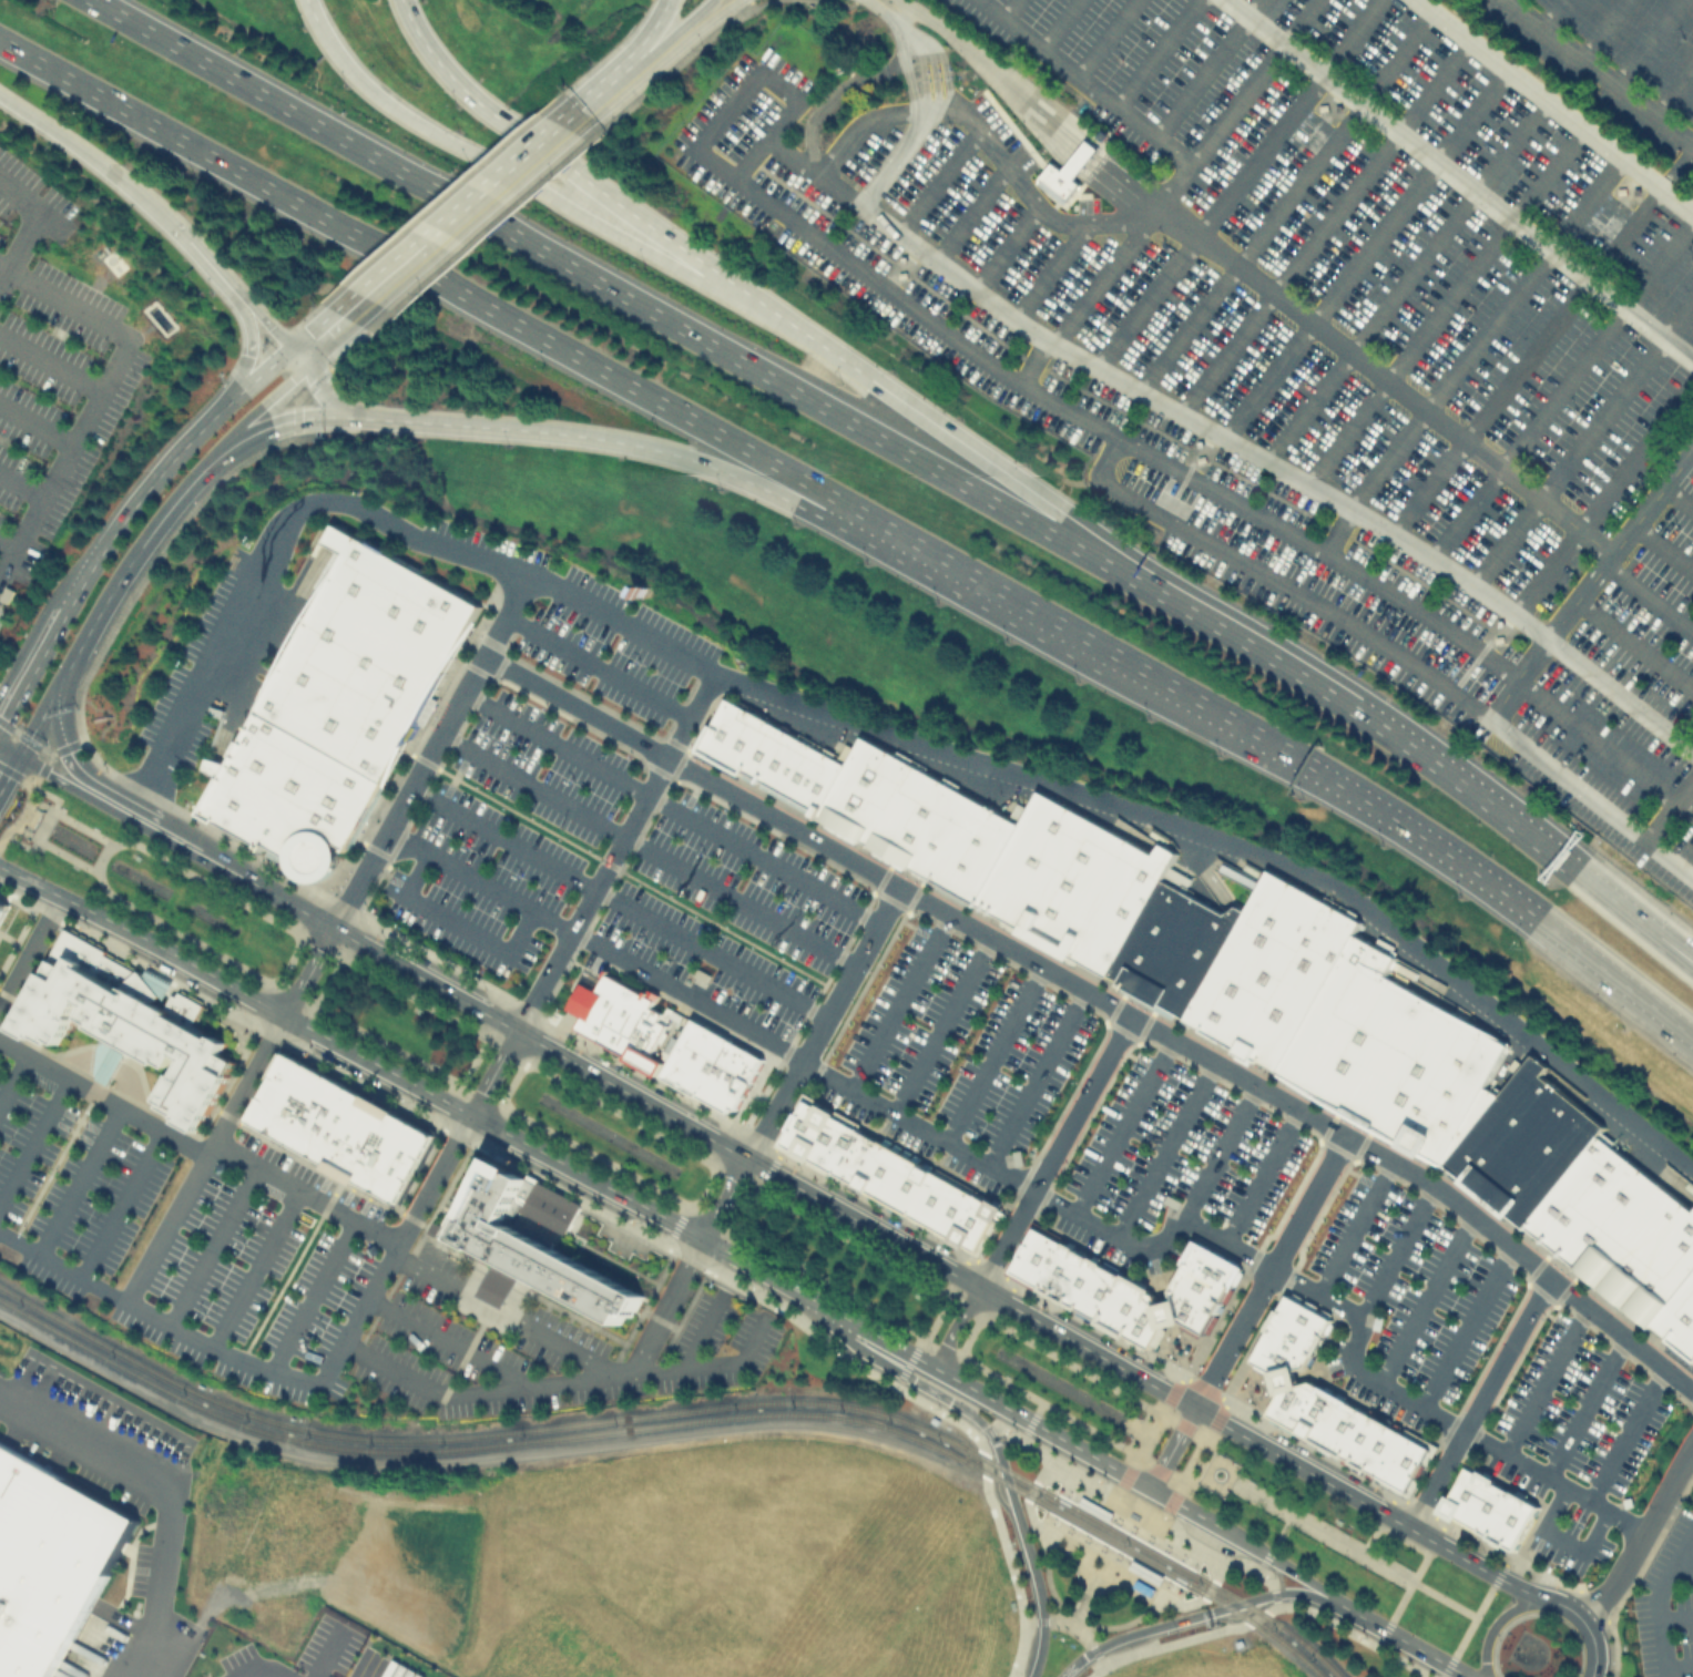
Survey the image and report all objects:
road: (752, 4)
road: (310, 9)
road: (1010, 9)
road: (1550, 14)
road: (689, 21)
road: (1058, 23)
road: (703, 24)
road: (1600, 29)
road: (1104, 38)
road: (642, 41)
road: (1645, 42)
road: (918, 43)
road: (1154, 52)
road: (902, 65)
road: (645, 67)
road: (1204, 67)
road: (988, 71)
road: (670, 72)
road: (1595, 72)
road: (1252, 81)
road: (1672, 90)
road: (833, 94)
road: (1536, 94)
road: (1106, 99)
road: (593, 105)
building: (1322, 105)
road: (1692, 145)
road: (1103, 146)
road: (1692, 146)
road: (1082, 154)
road: (792, 155)
building: (1078, 157)
road: (893, 159)
road: (99, 162)
road: (1675, 167)
road: (567, 168)
building: (1058, 181)
road: (1459, 181)
road: (938, 182)
road: (1236, 182)
road: (523, 183)
road: (1120, 184)
building: (1620, 188)
road: (1028, 196)
road: (1285, 201)
road: (1675, 202)
road: (468, 214)
road: (970, 214)
road: (29, 222)
road: (490, 226)
road: (1323, 226)
road: (1003, 247)
road: (1363, 253)
road: (1050, 269)
building: (899, 273)
road: (220, 274)
road: (1103, 274)
road: (430, 275)
road: (1405, 280)
road: (1441, 304)
parking lot: (1295, 315)
road: (345, 320)
traffic signals: (273, 328)
road: (276, 331)
road: (1483, 333)
road: (361, 340)
traffic signals: (322, 341)
road: (312, 349)
road: (1526, 359)
road: (50, 361)
road: (245, 361)
road: (1033, 361)
road: (987, 362)
parking lot: (50, 368)
road: (1115, 376)
road: (257, 377)
road: (105, 378)
road: (1384, 378)
traffic signals: (292, 379)
road: (318, 384)
road: (1562, 385)
road: (298, 397)
road: (262, 405)
traffic signals: (324, 417)
road: (35, 421)
road: (257, 431)
road: (583, 436)
road: (956, 439)
road: (1582, 439)
road: (889, 444)
road: (1691, 452)
building: (1199, 457)
road: (159, 476)
road: (21, 482)
road: (1602, 494)
road: (1676, 499)
road: (1336, 530)
road: (6, 545)
road: (438, 545)
road: (1662, 549)
road: (6, 559)
road: (130, 562)
road: (152, 564)
road: (1275, 579)
road: (1588, 580)
road: (980, 590)
road: (1648, 597)
road: (620, 623)
building: (1495, 636)
road: (1633, 644)
road: (48, 645)
building: (368, 654)
road: (595, 665)
parking lot: (195, 673)
road: (1619, 695)
road: (2, 722)
road: (37, 723)
building: (728, 735)
road: (1603, 745)
road: (3, 747)
road: (42, 748)
traffic signals: (7, 749)
building: (762, 751)
road: (3, 755)
building: (800, 773)
road: (1327, 778)
building: (293, 781)
road: (32, 785)
building: (861, 790)
road: (55, 797)
road: (1588, 797)
road: (131, 800)
road: (669, 807)
road: (1667, 808)
building: (907, 816)
road: (129, 818)
road: (80, 827)
road: (1196, 829)
road: (7, 831)
building: (941, 834)
building: (285, 839)
road: (646, 847)
road: (630, 850)
building: (975, 852)
road: (65, 855)
road: (623, 870)
road: (476, 880)
road: (100, 882)
building: (1072, 883)
park: (150, 886)
road: (589, 892)
road: (616, 901)
building: (2, 907)
road: (452, 924)
road: (1674, 949)
building: (1173, 950)
road: (30, 952)
road: (427, 952)
road: (1674, 952)
road: (833, 964)
building: (1271, 971)
road: (308, 972)
road: (1615, 978)
road: (325, 980)
road: (898, 1001)
road: (1102, 1002)
park: (399, 1020)
building: (629, 1021)
building: (125, 1023)
road: (820, 1023)
road: (940, 1024)
parking lot: (972, 1051)
road: (991, 1053)
building: (1394, 1055)
building: (694, 1057)
road: (472, 1060)
road: (529, 1063)
road: (493, 1073)
road: (12, 1075)
building: (730, 1076)
road: (1034, 1077)
road: (511, 1082)
road: (245, 1085)
road: (102, 1098)
road: (504, 1107)
road: (1119, 1125)
building: (340, 1126)
park: (606, 1134)
road: (34, 1138)
building: (824, 1138)
building: (1523, 1144)
road: (1162, 1148)
road: (733, 1152)
road: (1053, 1152)
road: (1217, 1152)
road: (772, 1165)
road: (1262, 1174)
building: (891, 1176)
road: (589, 1177)
road: (434, 1178)
road: (78, 1179)
road: (705, 1188)
road: (306, 1192)
road: (726, 1199)
road: (120, 1203)
building: (940, 1204)
road: (602, 1214)
road: (1090, 1221)
building: (975, 1224)
road: (1353, 1226)
road: (164, 1228)
building: (1619, 1229)
building: (532, 1241)
road: (212, 1245)
road: (874, 1252)
road: (1394, 1252)
building: (1033, 1255)
building: (1213, 1260)
park: (844, 1264)
road: (981, 1264)
road: (254, 1267)
parking lot: (295, 1270)
road: (807, 1271)
building: (1064, 1271)
building: (1088, 1271)
road: (1267, 1271)
road: (1156, 1274)
building: (1202, 1285)
building: (1095, 1292)
road: (310, 1293)
road: (1424, 1298)
road: (669, 1303)
building: (1123, 1306)
road: (972, 1308)
building: (1192, 1311)
building: (1305, 1312)
road: (501, 1313)
building: (1166, 1313)
road: (1167, 1313)
building: (1679, 1323)
building: (1144, 1325)
road: (1465, 1325)
road: (952, 1326)
road: (703, 1330)
building: (1294, 1331)
road: (445, 1341)
building: (1284, 1347)
road: (945, 1348)
road: (1177, 1350)
road: (917, 1351)
road: (225, 1353)
road: (965, 1359)
building: (1268, 1359)
road: (909, 1366)
road: (1320, 1369)
road: (900, 1373)
road: (558, 1379)
building: (1284, 1379)
road: (1285, 1380)
road: (1550, 1384)
park: (1063, 1387)
road: (1251, 1390)
road: (1173, 1393)
road: (1225, 1395)
building: (1289, 1405)
railway: (689, 1408)
building: (1314, 1411)
road: (1590, 1412)
road: (1032, 1420)
railway: (679, 1421)
road: (1184, 1425)
building: (1337, 1425)
road: (992, 1428)
road: (982, 1435)
building: (1358, 1435)
road: (1473, 1435)
road: (1630, 1440)
building: (1375, 1445)
road: (1037, 1446)
road: (1172, 1449)
road: (485, 1456)
road: (1194, 1460)
building: (1405, 1462)
road: (1202, 1464)
road: (1297, 1466)
road: (1159, 1471)
road: (1006, 1476)
railway: (1060, 1481)
road: (991, 1482)
road: (1123, 1484)
road: (170, 1487)
road: (1031, 1490)
building: (1463, 1493)
road: (1399, 1496)
road: (1141, 1505)
road: (1166, 1509)
road: (1193, 1513)
building: (1501, 1515)
railway: (1039, 1518)
road: (1115, 1522)
road: (1071, 1528)
road: (1156, 1530)
road: (1409, 1530)
road: (1322, 1531)
road: (1638, 1531)
road: (1279, 1535)
road: (1401, 1540)
road: (1562, 1540)
road: (1241, 1541)
park: (1338, 1543)
road: (1651, 1547)
road: (1227, 1555)
building: (50, 1560)
road: (1683, 1562)
road: (1262, 1563)
road: (1247, 1565)
building: (1166, 1568)
road: (1034, 1572)
road: (1101, 1574)
road: (1153, 1574)
road: (1277, 1574)
road: (1495, 1576)
road: (1310, 1582)
road: (1094, 1584)
road: (1093, 1586)
building: (1142, 1586)
road: (1206, 1587)
road: (1278, 1594)
road: (1317, 1598)
road: (1658, 1598)
parking lot: (1667, 1602)
road: (1275, 1603)
road: (1237, 1604)
road: (1590, 1605)
road: (1262, 1614)
road: (1394, 1614)
road: (1245, 1616)
road: (1476, 1616)
road: (1675, 1616)
road: (1497, 1619)
road: (1073, 1622)
road: (1073, 1623)
road: (1146, 1628)
road: (1587, 1630)
road: (1409, 1644)
road: (1039, 1648)
road: (1613, 1648)
road: (1077, 1663)
road: (1677, 1666)

